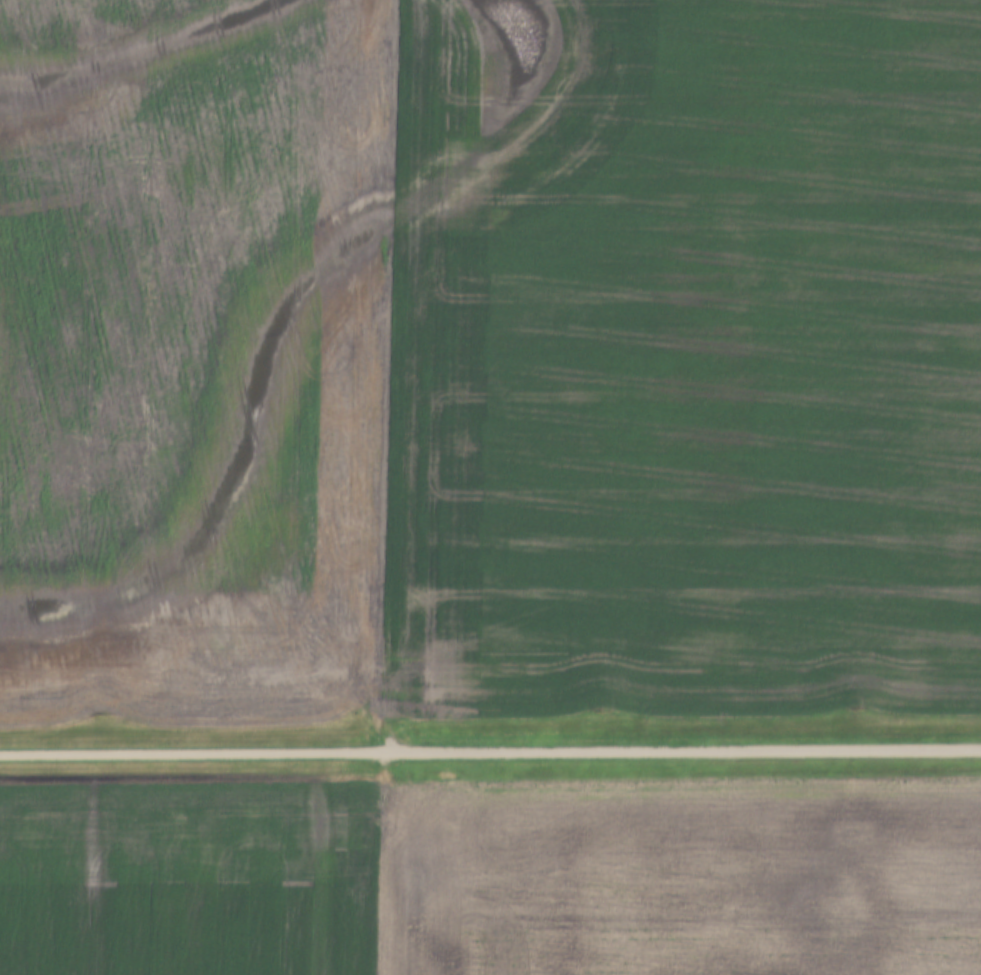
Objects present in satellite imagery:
crop: (488, 357)
road: (490, 750)
crop: (678, 875)
crop: (186, 877)

